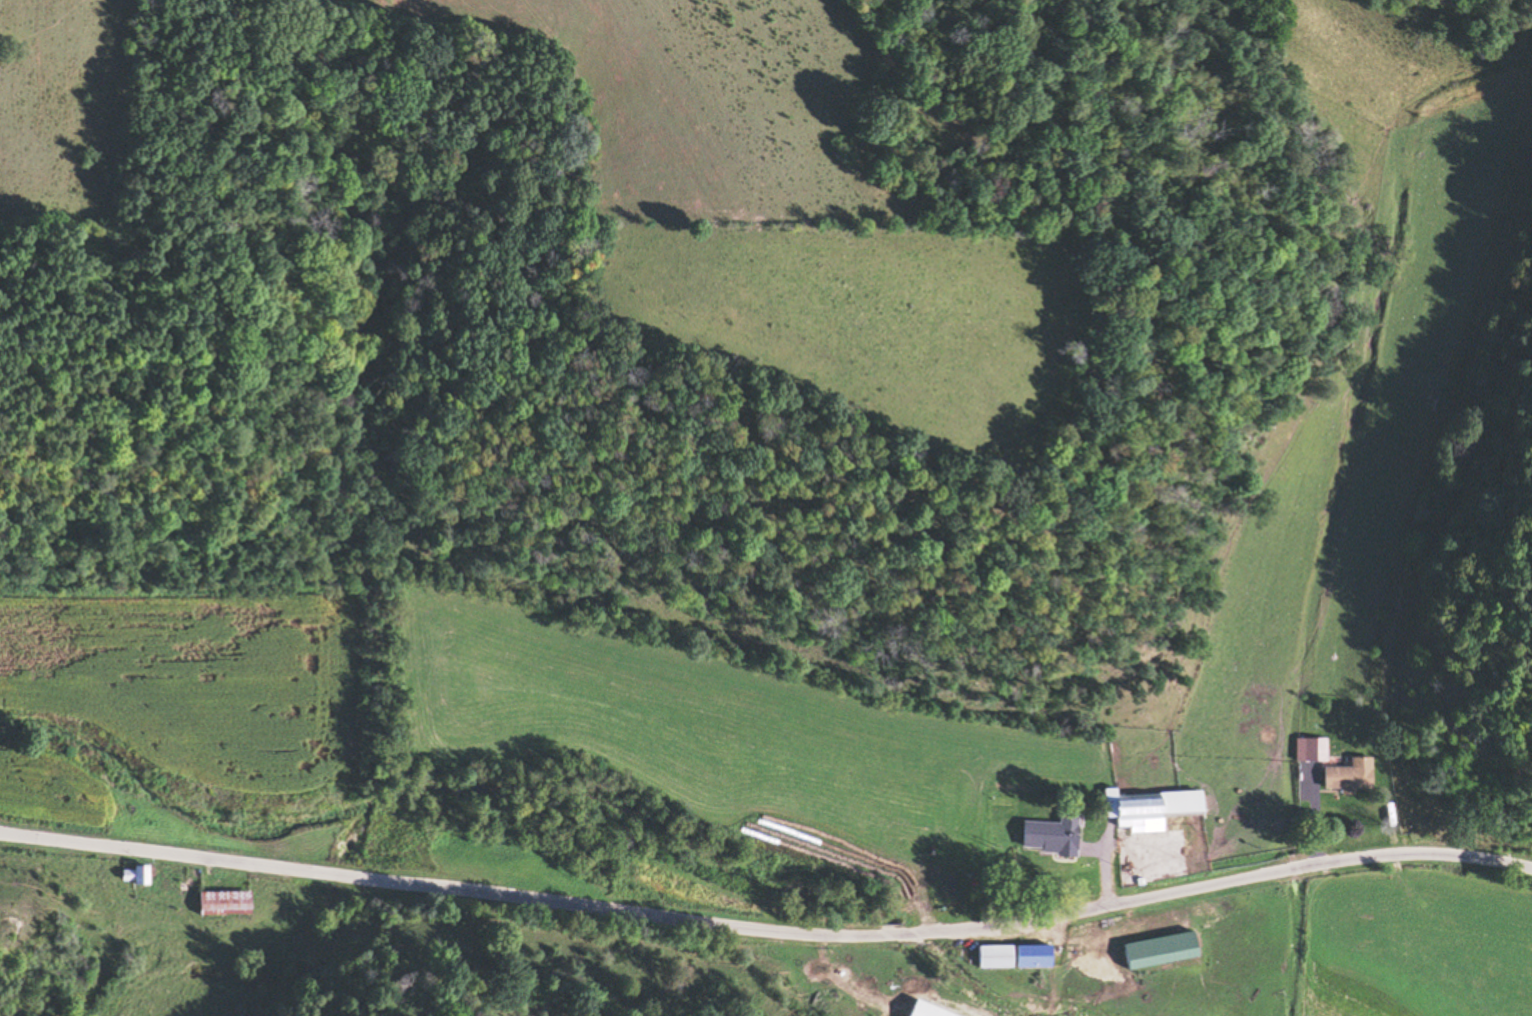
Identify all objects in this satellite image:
crop: (193, 680)
crop: (715, 731)
building: (1312, 749)
building: (1347, 776)
building: (1147, 806)
building: (195, 826)
building: (1049, 837)
building: (132, 875)
building: (220, 903)
road: (766, 930)
crop: (1411, 939)
building: (1008, 955)
building: (869, 985)
building: (924, 1010)

